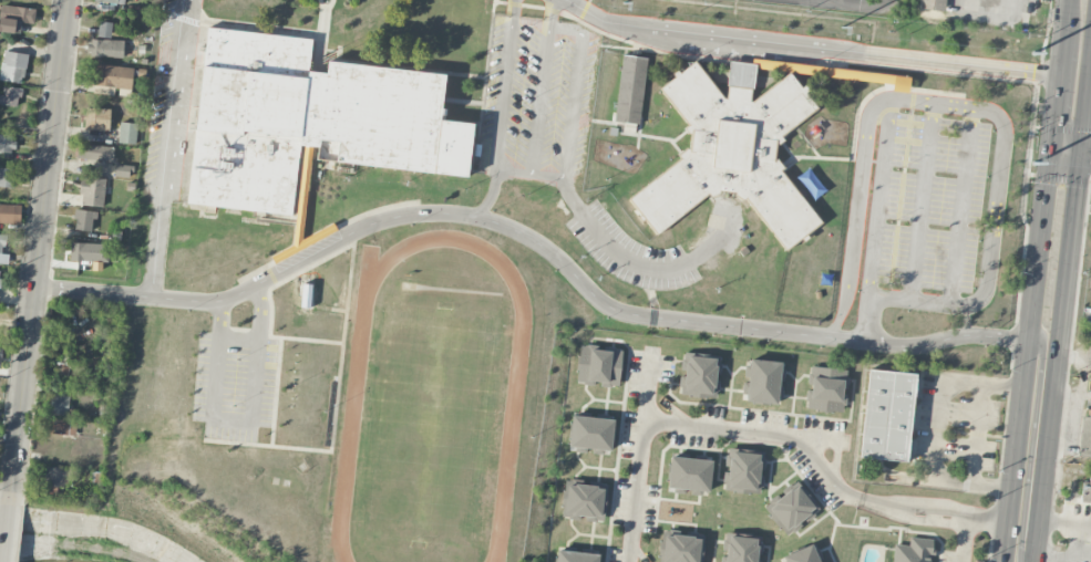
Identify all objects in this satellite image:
road: (1027, 0)
building: (109, 1)
power tower: (625, 3)
road: (858, 3)
building: (934, 4)
building: (14, 18)
power tower: (842, 27)
road: (1063, 28)
building: (104, 30)
building: (105, 48)
road: (806, 48)
power tower: (1035, 53)
building: (13, 66)
building: (112, 79)
building: (630, 90)
building: (10, 96)
road: (539, 102)
road: (925, 102)
road: (1056, 104)
road: (1085, 112)
building: (96, 118)
building: (308, 121)
building: (127, 133)
building: (7, 144)
road: (172, 148)
building: (731, 150)
building: (95, 153)
traffic signals: (1050, 154)
road: (1066, 155)
traffic signals: (1081, 157)
road: (1085, 157)
power tower: (1035, 163)
building: (122, 170)
road: (547, 176)
building: (7, 177)
building: (92, 191)
road: (490, 196)
road: (882, 197)
road: (922, 201)
road: (960, 207)
building: (10, 214)
building: (84, 220)
road: (534, 240)
road: (40, 246)
building: (2, 251)
building: (88, 252)
road: (624, 256)
building: (305, 295)
road: (886, 298)
building: (73, 357)
road: (1027, 357)
road: (1074, 357)
road: (1058, 360)
building: (599, 366)
building: (700, 376)
building: (763, 382)
building: (826, 389)
building: (59, 405)
building: (887, 415)
road: (245, 418)
road: (697, 425)
building: (59, 427)
road: (936, 430)
building: (591, 435)
building: (1084, 438)
road: (1031, 448)
road: (1068, 469)
building: (744, 471)
building: (689, 476)
building: (58, 477)
building: (1087, 491)
building: (584, 502)
road: (873, 502)
road: (927, 508)
building: (791, 509)
road: (930, 514)
road: (987, 519)
road: (1066, 519)
road: (926, 520)
road: (7, 527)
road: (963, 540)
building: (680, 548)
building: (741, 549)
building: (913, 551)
road: (1062, 551)
building: (803, 555)
building: (576, 556)
road: (1070, 556)

